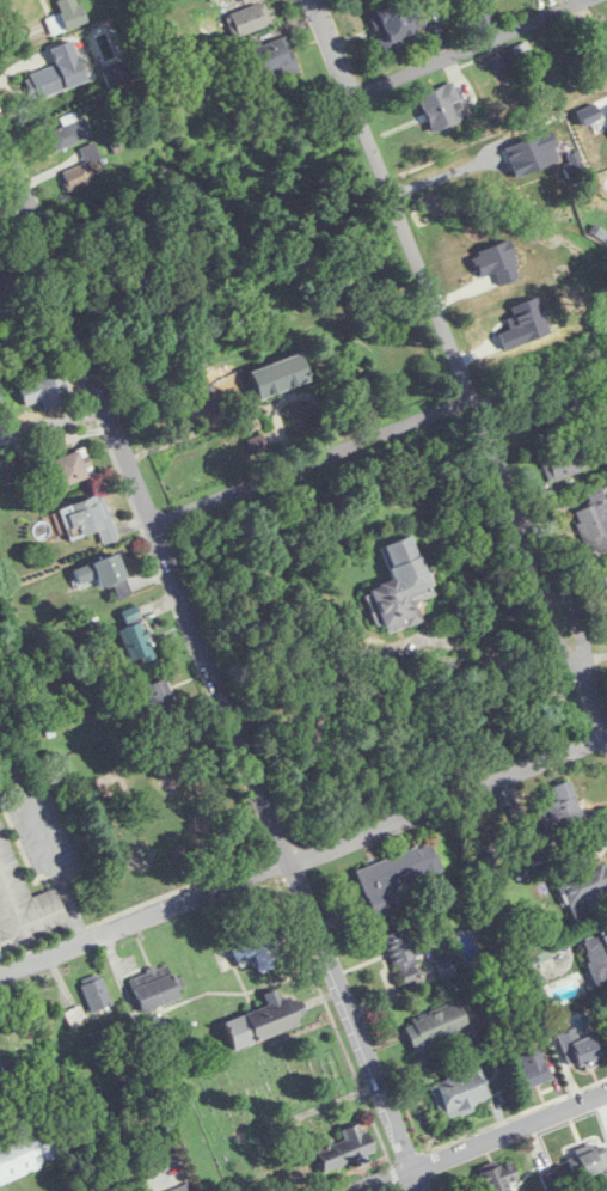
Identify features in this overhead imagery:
building: (219, 0)
building: (66, 16)
building: (249, 19)
building: (606, 19)
building: (396, 24)
building: (606, 33)
road: (467, 45)
building: (272, 57)
building: (501, 62)
building: (44, 81)
building: (441, 105)
building: (78, 177)
road: (18, 232)
building: (7, 282)
road: (31, 301)
road: (460, 365)
building: (277, 375)
building: (47, 392)
building: (554, 414)
road: (55, 421)
road: (315, 460)
building: (563, 464)
building: (68, 468)
building: (88, 519)
building: (594, 523)
building: (104, 576)
building: (605, 580)
building: (400, 587)
building: (135, 637)
road: (214, 662)
building: (160, 697)
building: (559, 813)
road: (47, 844)
road: (303, 857)
building: (394, 875)
building: (583, 888)
building: (24, 904)
building: (263, 947)
building: (404, 955)
building: (597, 959)
building: (154, 987)
building: (97, 992)
building: (260, 1021)
building: (435, 1026)
building: (578, 1049)
building: (532, 1067)
building: (0, 1085)
building: (460, 1093)
park: (262, 1111)
road: (482, 1140)
building: (343, 1146)
building: (32, 1148)
building: (588, 1165)
building: (498, 1178)
building: (182, 1187)

